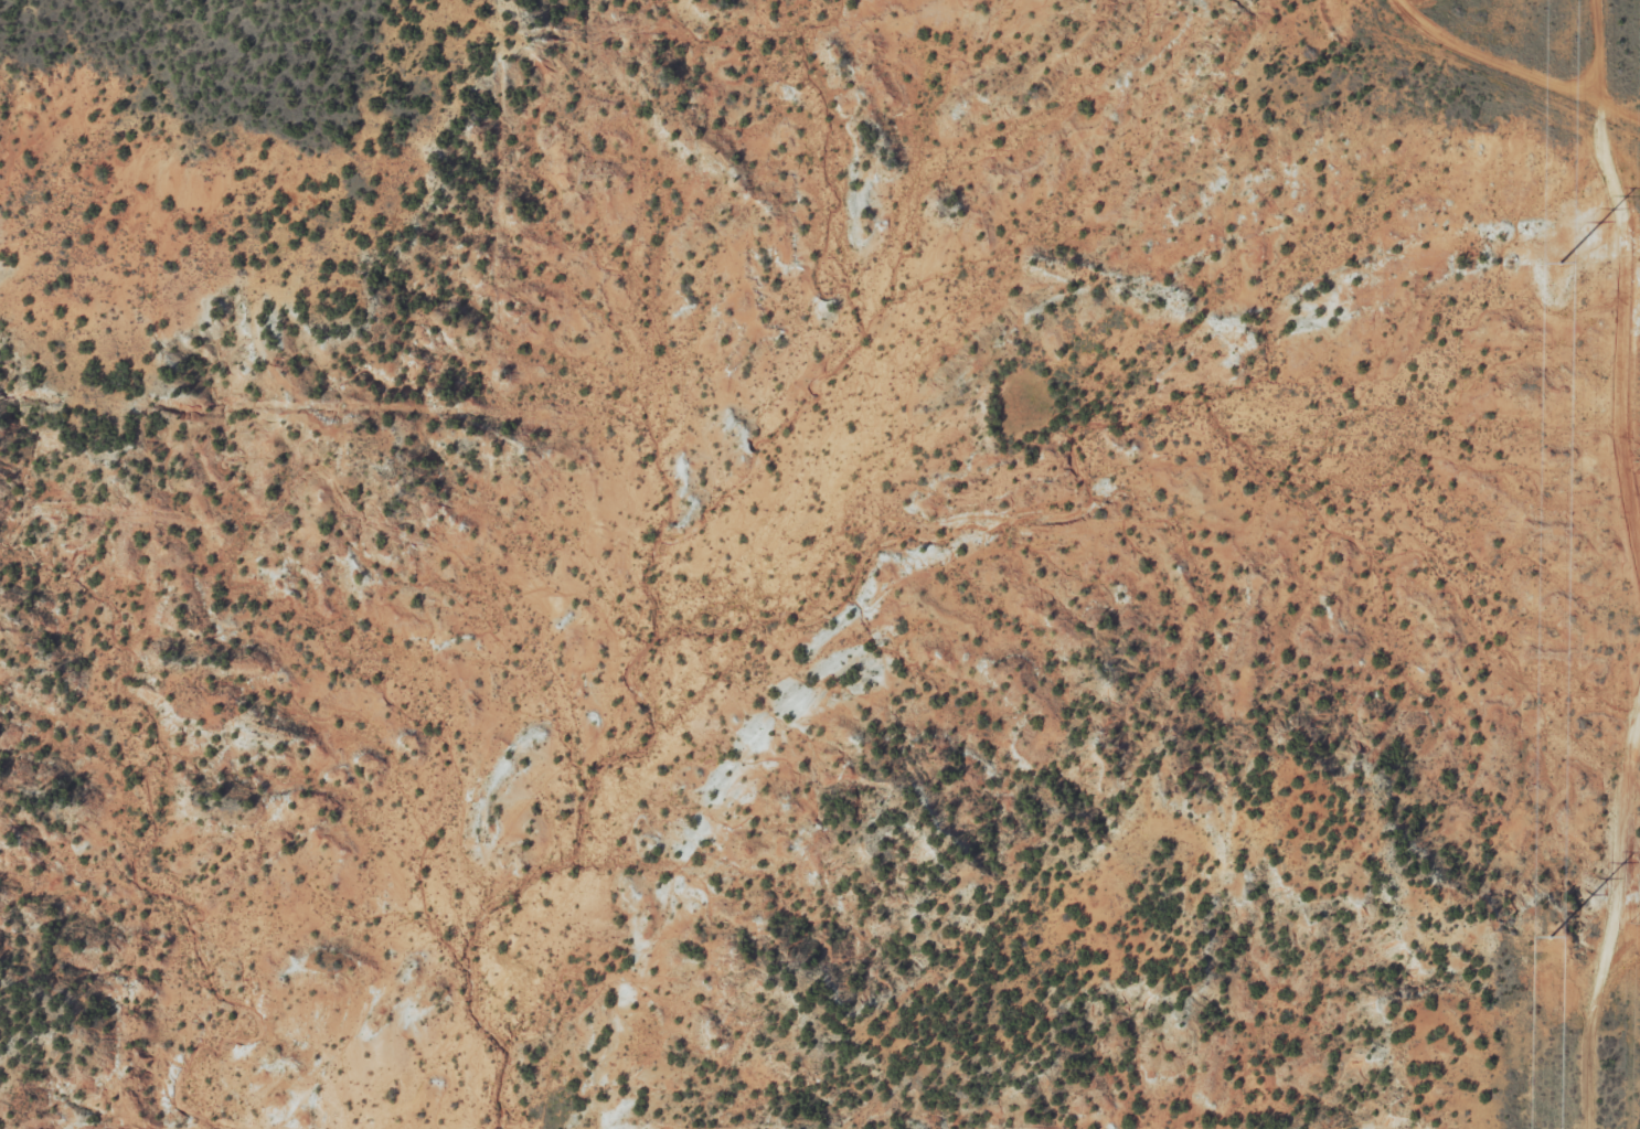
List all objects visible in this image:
road: (1527, 60)
power tower: (1559, 263)
power tower: (1639, 457)
power tower: (1634, 920)
power tower: (1550, 937)

